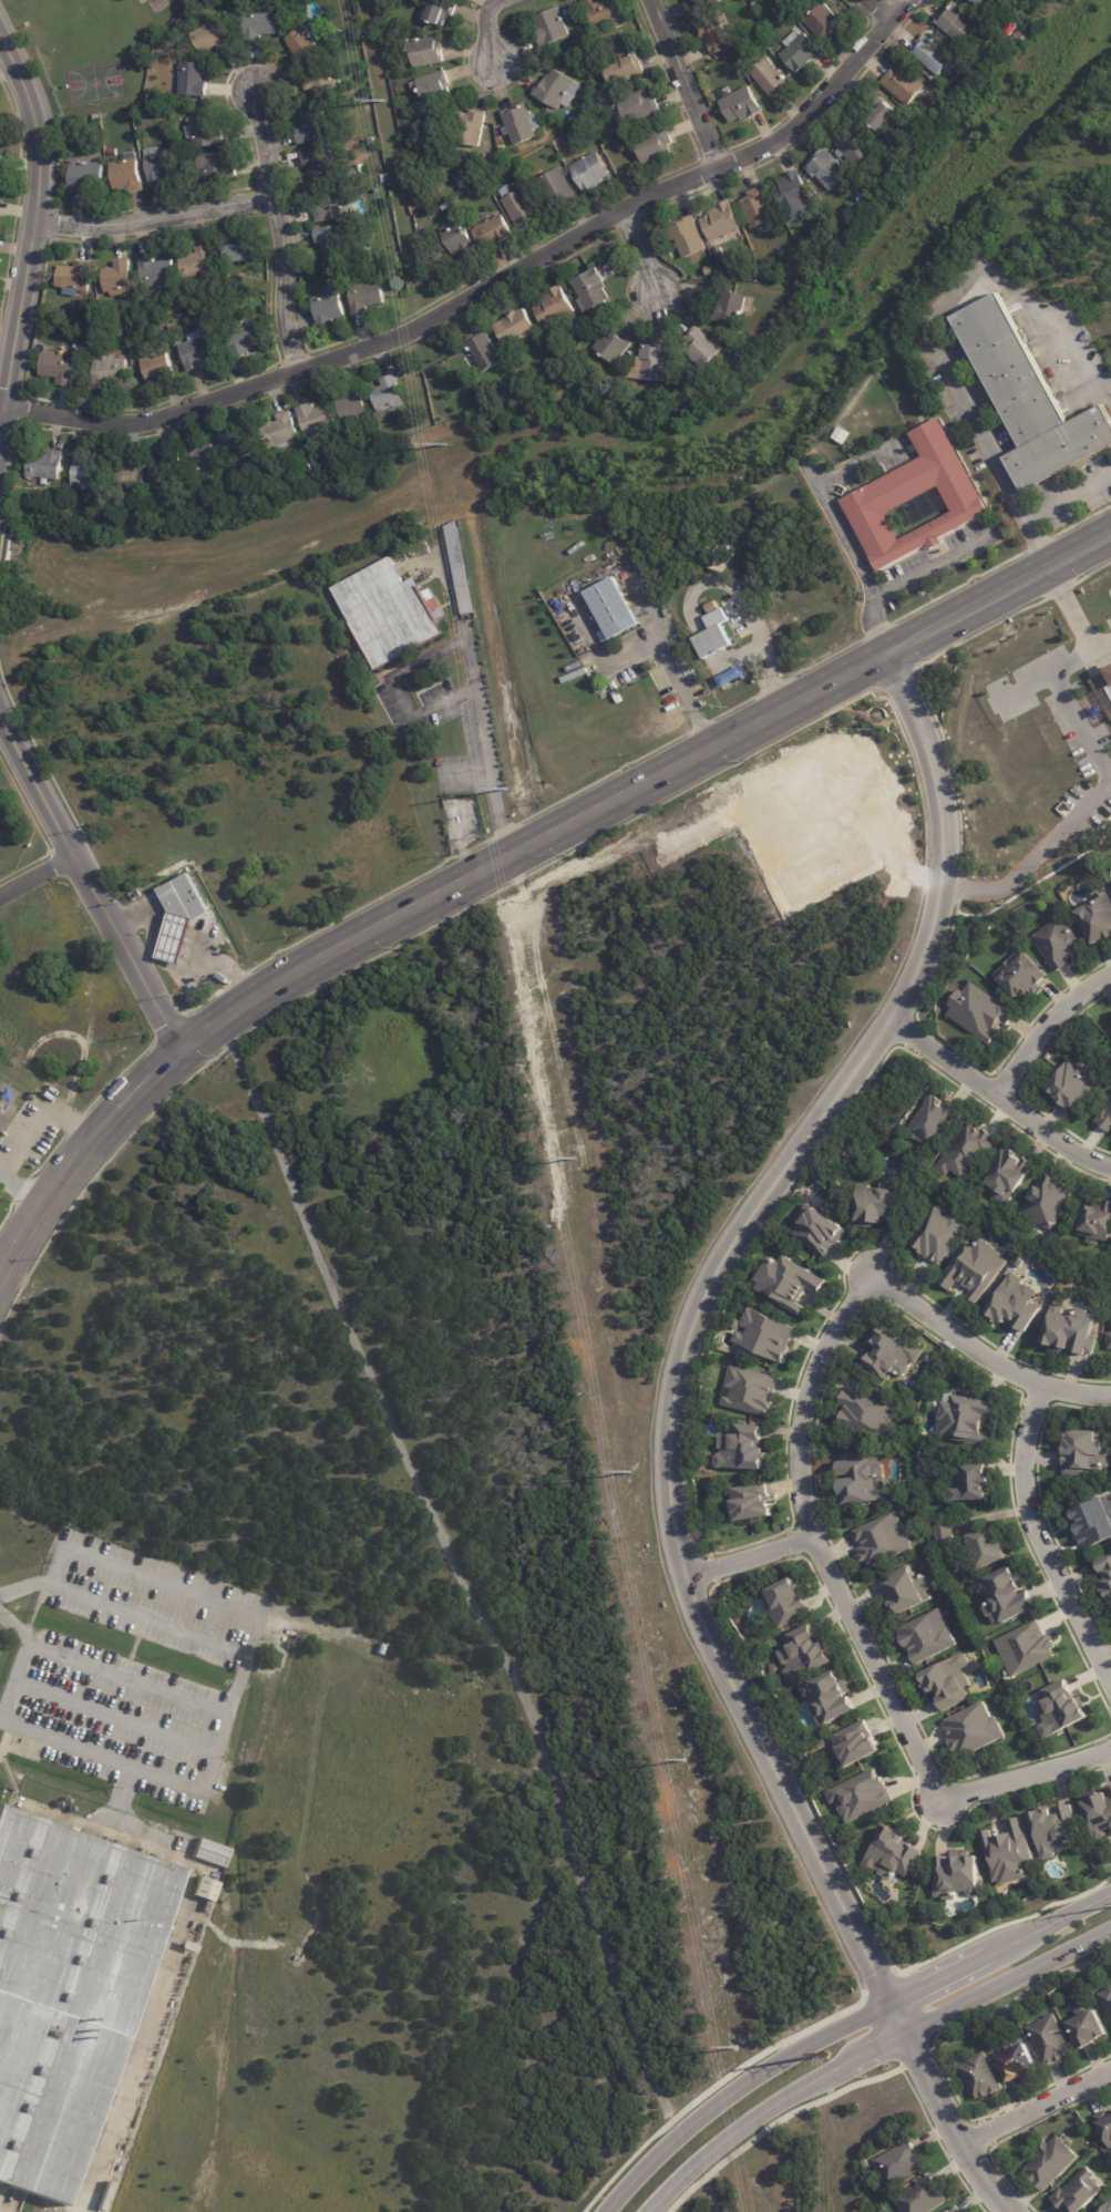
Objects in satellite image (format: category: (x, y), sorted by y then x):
building: (778, 0)
building: (704, 3)
building: (983, 3)
building: (798, 9)
road: (884, 10)
building: (440, 12)
building: (605, 12)
building: (381, 13)
building: (823, 23)
building: (957, 24)
building: (258, 27)
building: (552, 28)
building: (1011, 30)
road: (492, 34)
building: (714, 37)
building: (212, 38)
building: (764, 38)
building: (304, 47)
building: (425, 52)
building: (800, 52)
building: (981, 52)
building: (565, 55)
building: (933, 56)
building: (624, 69)
building: (770, 79)
building: (192, 80)
road: (682, 83)
building: (904, 85)
building: (556, 90)
building: (432, 91)
building: (595, 97)
building: (741, 105)
building: (636, 109)
building: (884, 117)
building: (95, 120)
building: (404, 125)
building: (521, 125)
building: (312, 128)
building: (471, 128)
building: (205, 133)
building: (371, 142)
building: (655, 146)
building: (502, 150)
building: (858, 152)
building: (112, 153)
building: (0, 160)
building: (490, 163)
building: (217, 166)
building: (317, 166)
building: (158, 167)
building: (827, 171)
building: (590, 173)
building: (86, 175)
building: (126, 175)
building: (353, 175)
building: (463, 185)
building: (559, 189)
building: (795, 196)
building: (445, 207)
building: (332, 208)
building: (521, 209)
building: (759, 209)
road: (158, 220)
building: (721, 222)
road: (280, 230)
building: (419, 232)
building: (493, 234)
building: (689, 237)
building: (457, 238)
building: (333, 244)
road: (38, 250)
building: (239, 255)
road: (648, 255)
building: (395, 261)
building: (197, 265)
building: (155, 272)
building: (714, 272)
building: (117, 278)
building: (74, 279)
road: (488, 284)
building: (591, 295)
building: (364, 298)
building: (553, 308)
building: (328, 309)
building: (730, 310)
road: (942, 310)
building: (515, 328)
building: (243, 341)
building: (613, 346)
building: (701, 349)
building: (197, 351)
building: (484, 352)
building: (652, 363)
building: (58, 369)
building: (156, 369)
building: (109, 373)
building: (1033, 391)
building: (387, 397)
building: (428, 405)
building: (351, 409)
building: (313, 420)
building: (279, 432)
building: (310, 441)
building: (239, 446)
building: (200, 459)
building: (312, 462)
road: (861, 464)
building: (45, 465)
building: (306, 470)
building: (166, 471)
building: (85, 472)
building: (128, 475)
building: (922, 496)
building: (207, 505)
road: (843, 531)
road: (1042, 552)
building: (462, 569)
road: (912, 578)
building: (617, 603)
building: (395, 610)
building: (713, 641)
road: (1045, 675)
road: (685, 687)
building: (1104, 688)
building: (604, 689)
road: (476, 693)
road: (1081, 724)
park: (14, 830)
road: (510, 857)
road: (1036, 857)
road: (37, 876)
road: (91, 887)
building: (186, 914)
building: (1098, 918)
building: (1059, 942)
building: (1021, 974)
road: (182, 980)
building: (981, 1010)
road: (1046, 1022)
building: (1072, 1084)
road: (996, 1092)
building: (1105, 1118)
building: (934, 1120)
building: (6, 1124)
road: (27, 1139)
building: (968, 1151)
road: (1, 1172)
building: (1009, 1174)
building: (1048, 1200)
building: (878, 1204)
building: (1097, 1221)
building: (819, 1230)
building: (939, 1234)
building: (1019, 1262)
building: (975, 1267)
building: (788, 1282)
building: (1015, 1304)
building: (1110, 1307)
building: (1070, 1331)
building: (767, 1335)
building: (1110, 1337)
building: (950, 1346)
road: (983, 1350)
building: (893, 1354)
building: (751, 1390)
building: (870, 1414)
building: (967, 1419)
road: (666, 1430)
building: (742, 1448)
building: (1083, 1452)
building: (976, 1480)
building: (861, 1481)
building: (710, 1486)
building: (750, 1503)
building: (1093, 1522)
building: (945, 1532)
building: (883, 1540)
road: (1042, 1540)
road: (813, 1541)
building: (988, 1546)
road: (88, 1549)
road: (748, 1560)
building: (1105, 1564)
road: (23, 1587)
building: (1108, 1587)
building: (907, 1589)
road: (474, 1591)
building: (1007, 1595)
building: (786, 1602)
parking lot: (153, 1607)
road: (17, 1626)
building: (927, 1636)
building: (359, 1640)
building: (1027, 1647)
building: (804, 1654)
building: (949, 1681)
building: (831, 1698)
building: (1061, 1709)
road: (233, 1711)
road: (2, 1719)
parking lot: (117, 1729)
building: (974, 1730)
building: (855, 1746)
road: (1025, 1773)
building: (1110, 1789)
building: (862, 1796)
building: (1099, 1811)
building: (1056, 1829)
building: (212, 1852)
building: (1010, 1853)
building: (893, 1854)
building: (958, 1876)
building: (206, 1891)
building: (69, 1986)
building: (1107, 1999)
road: (843, 2027)
building: (1088, 2028)
building: (1050, 2040)
road: (872, 2051)
road: (148, 2060)
building: (1017, 2061)
building: (980, 2077)
road: (1039, 2109)
building: (1105, 2124)
building: (899, 2162)
building: (865, 2163)
building: (1050, 2163)
building: (1079, 2193)
building: (922, 2196)
building: (1107, 2208)
building: (956, 2209)

